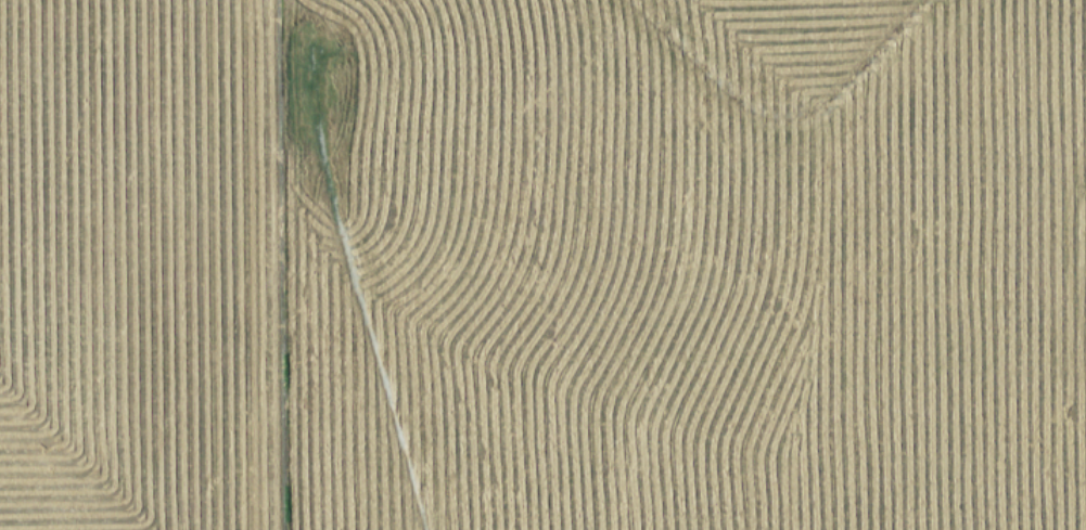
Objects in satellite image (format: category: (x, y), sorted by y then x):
crop: (542, 264)

